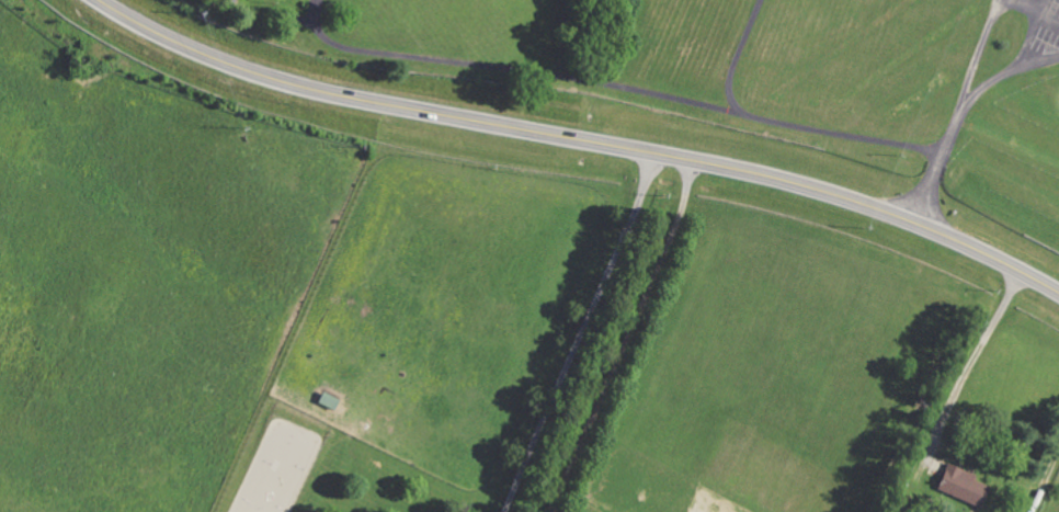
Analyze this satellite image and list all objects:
road: (998, 0)
road: (988, 27)
road: (739, 61)
park: (892, 91)
road: (626, 93)
road: (963, 114)
road: (580, 139)
road: (579, 332)
road: (628, 338)
road: (975, 361)
road: (1044, 479)
building: (959, 486)

